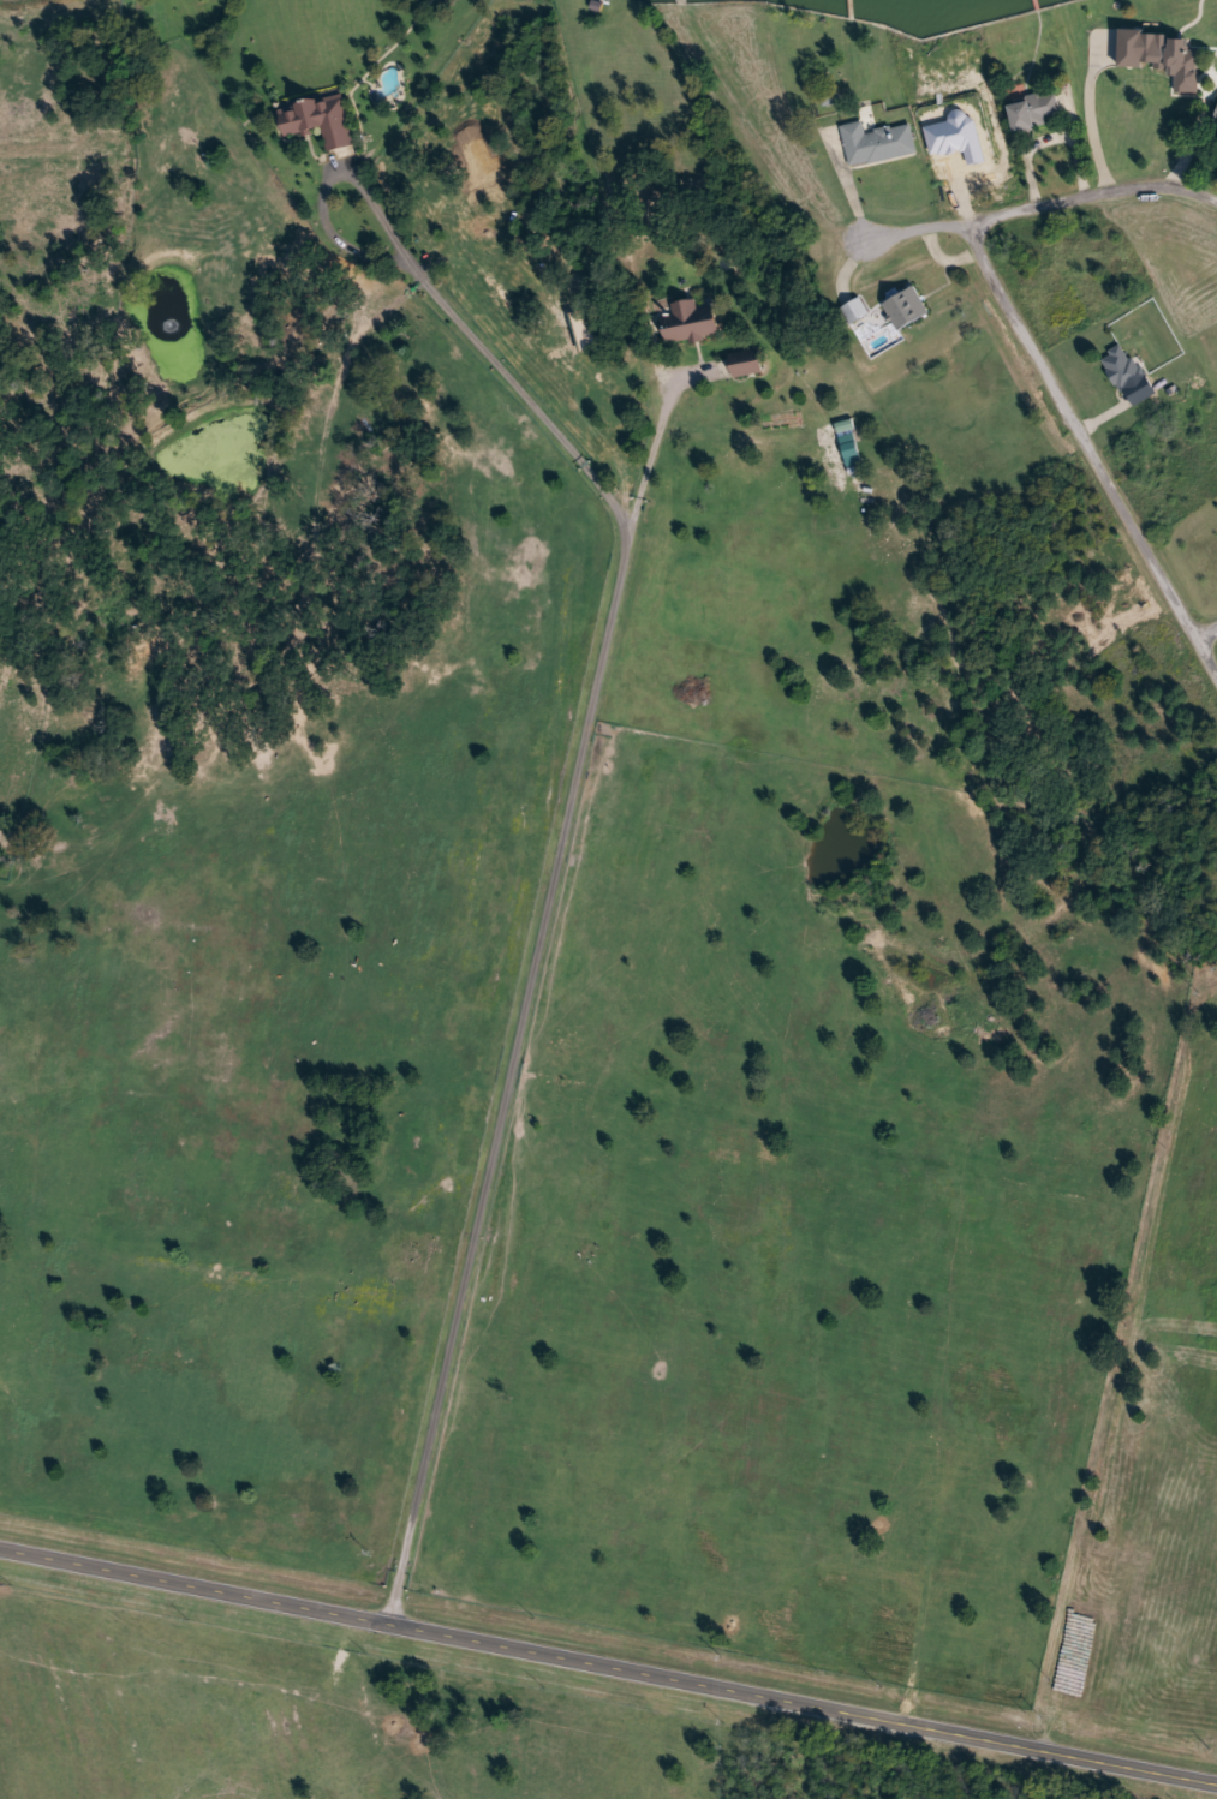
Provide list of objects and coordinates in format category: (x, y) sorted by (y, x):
building: (1164, 55)
building: (1034, 112)
road: (1088, 116)
building: (1215, 118)
building: (322, 119)
road: (1050, 138)
building: (878, 142)
road: (1189, 143)
road: (42, 159)
road: (849, 184)
road: (1031, 209)
building: (905, 305)
building: (855, 306)
building: (693, 322)
building: (587, 334)
building: (747, 364)
building: (1122, 366)
road: (1110, 412)
road: (1092, 443)
road: (654, 449)
road: (1209, 629)
road: (578, 766)
road: (608, 1655)

